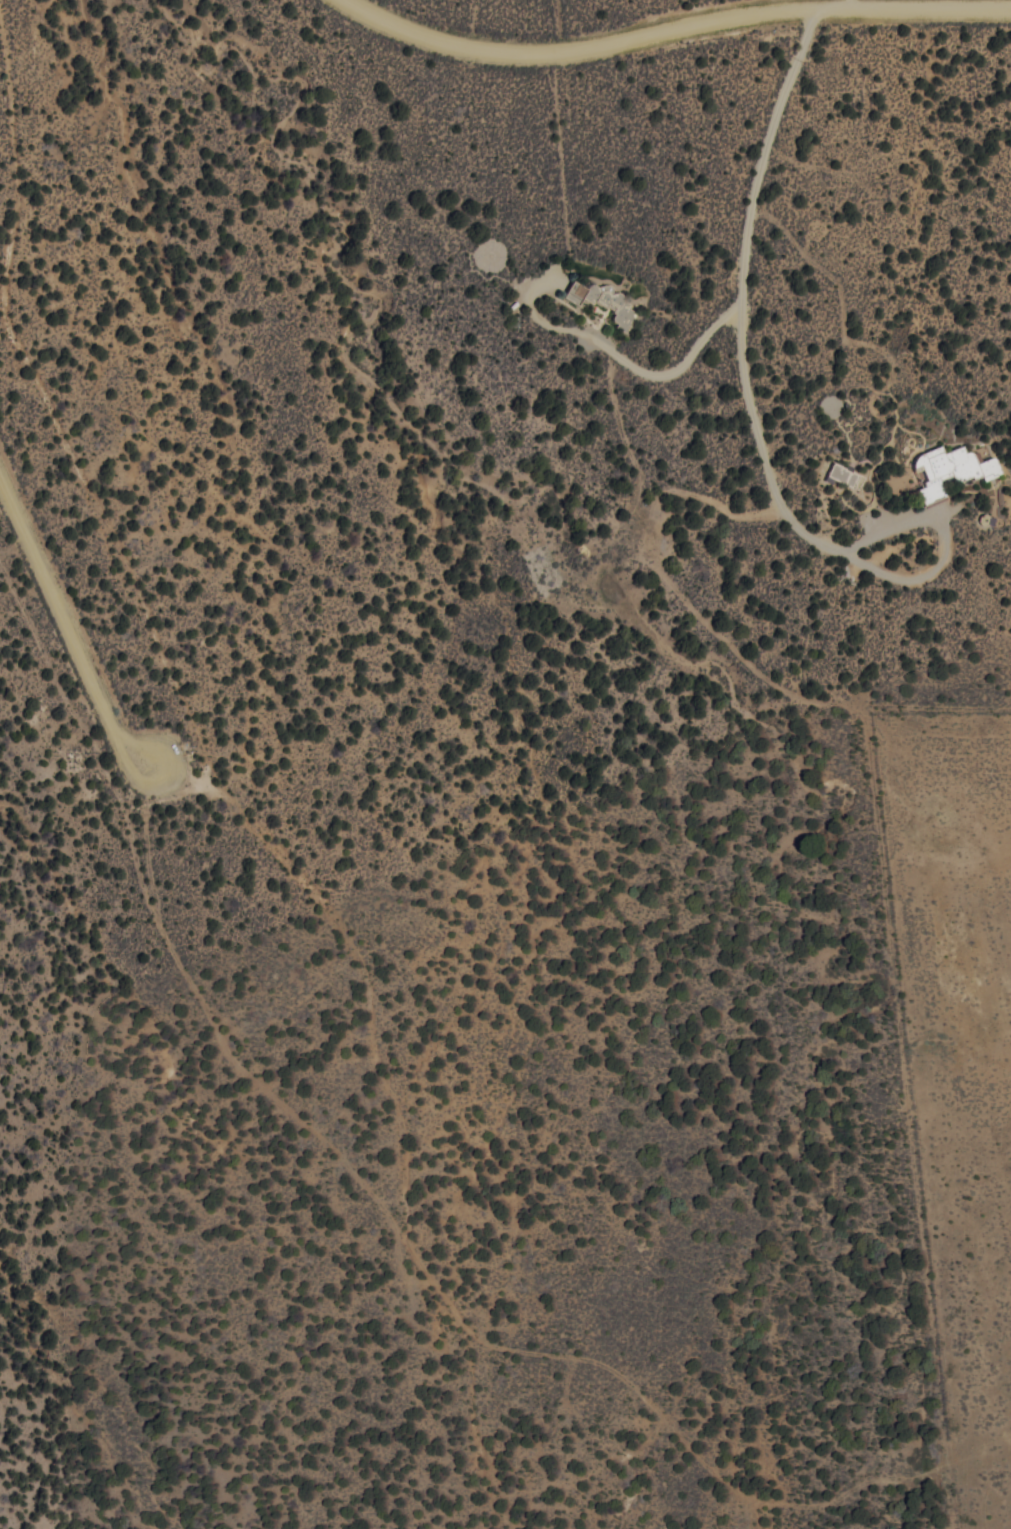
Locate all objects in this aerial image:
road: (671, 26)
building: (989, 467)
building: (944, 469)
building: (845, 475)
road: (68, 625)

